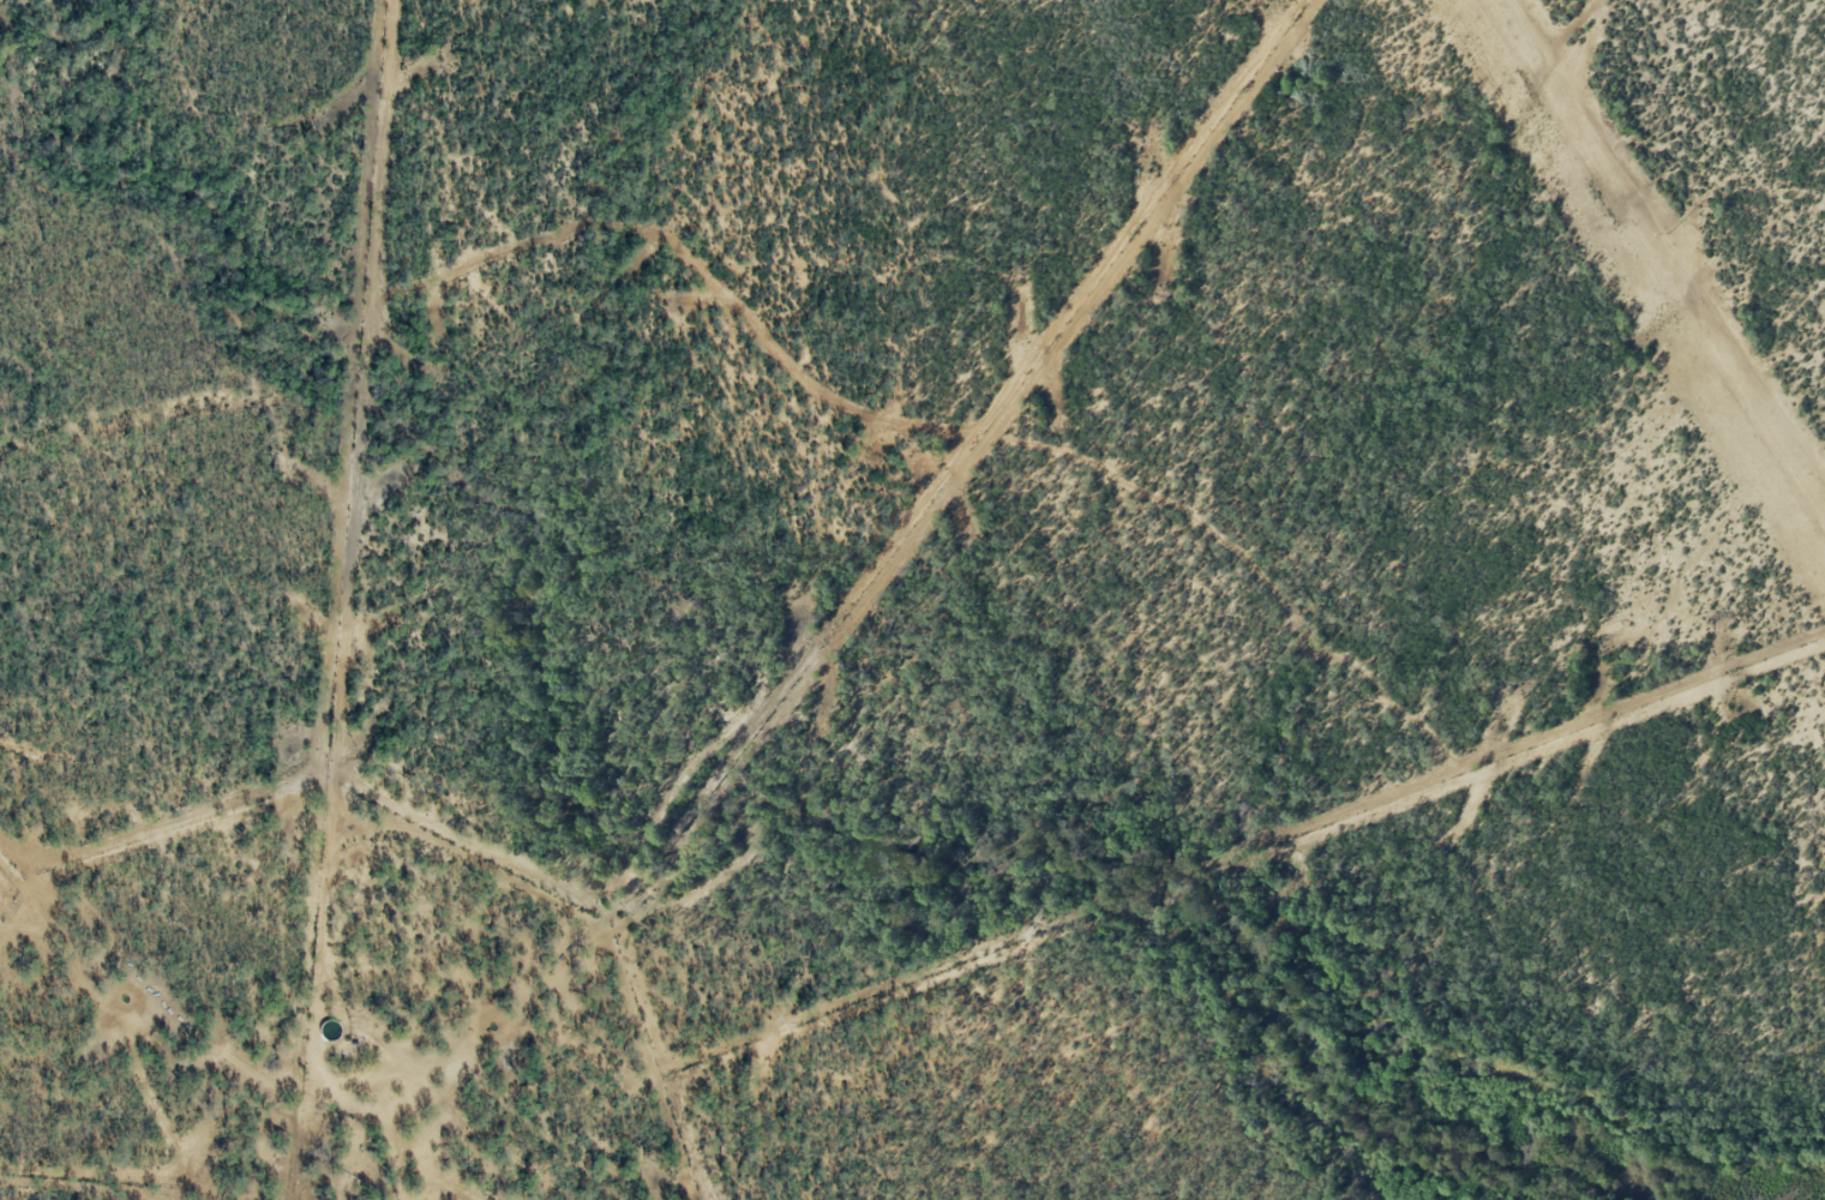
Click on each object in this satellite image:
power tower: (1668, 233)

